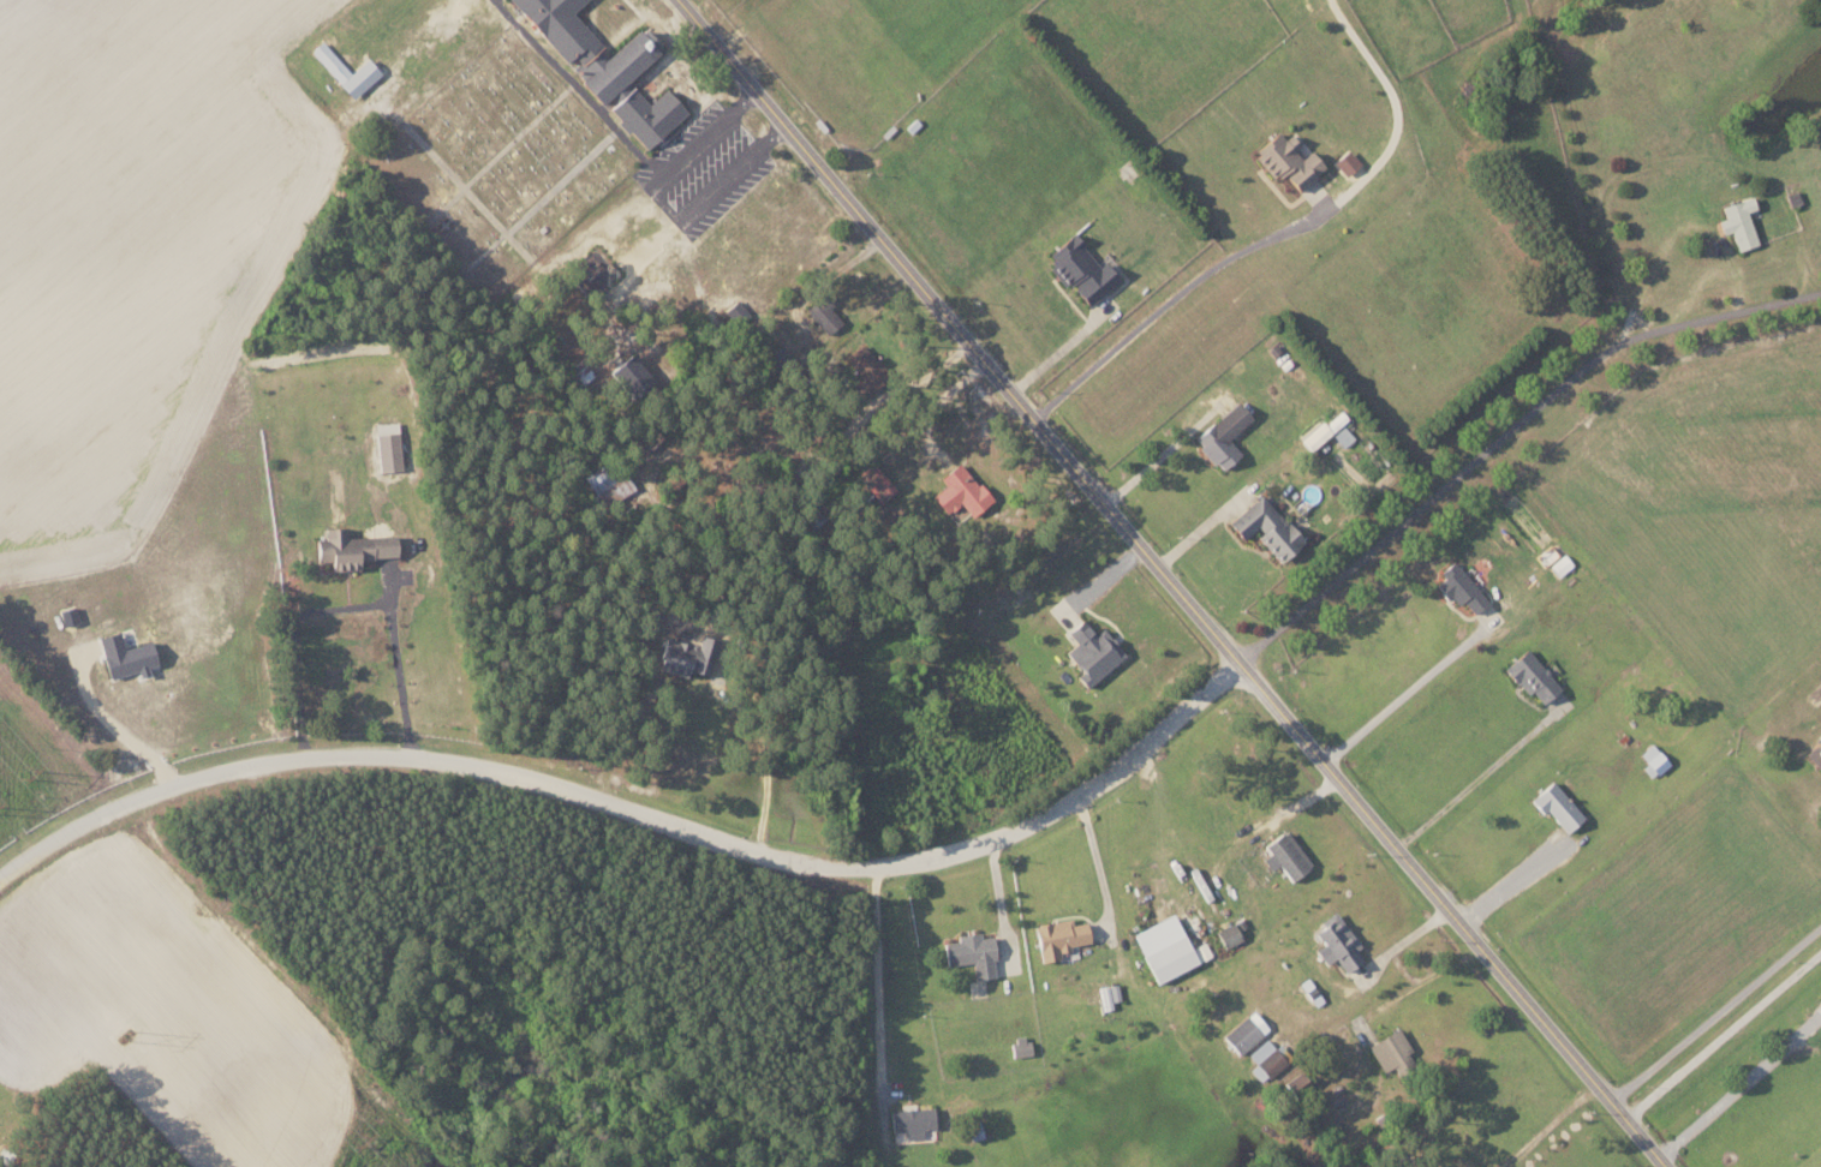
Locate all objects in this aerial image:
building: (589, 46)
building: (346, 71)
road: (579, 89)
building: (647, 114)
road: (711, 133)
building: (1290, 156)
road: (723, 182)
building: (1739, 223)
building: (1080, 270)
building: (823, 313)
road: (1147, 323)
building: (865, 365)
building: (632, 377)
building: (1325, 430)
building: (1343, 436)
building: (1223, 437)
building: (388, 447)
building: (599, 479)
building: (876, 483)
building: (961, 495)
building: (1267, 527)
building: (351, 546)
building: (1562, 564)
road: (1180, 580)
building: (1461, 586)
building: (1092, 651)
building: (686, 654)
building: (130, 659)
building: (1533, 675)
road: (1401, 699)
building: (1815, 753)
building: (1654, 759)
power tower: (29, 774)
road: (1471, 784)
building: (1557, 804)
road: (979, 844)
building: (1285, 854)
building: (1230, 932)
building: (1058, 936)
building: (1337, 942)
building: (1169, 947)
building: (972, 952)
building: (1110, 994)
road: (1716, 1016)
building: (1246, 1031)
road: (1724, 1035)
power tower: (129, 1036)
building: (1020, 1045)
building: (1392, 1051)
building: (1270, 1055)
road: (1741, 1088)
building: (913, 1120)
road: (1552, 1129)
power tower: (363, 1142)

